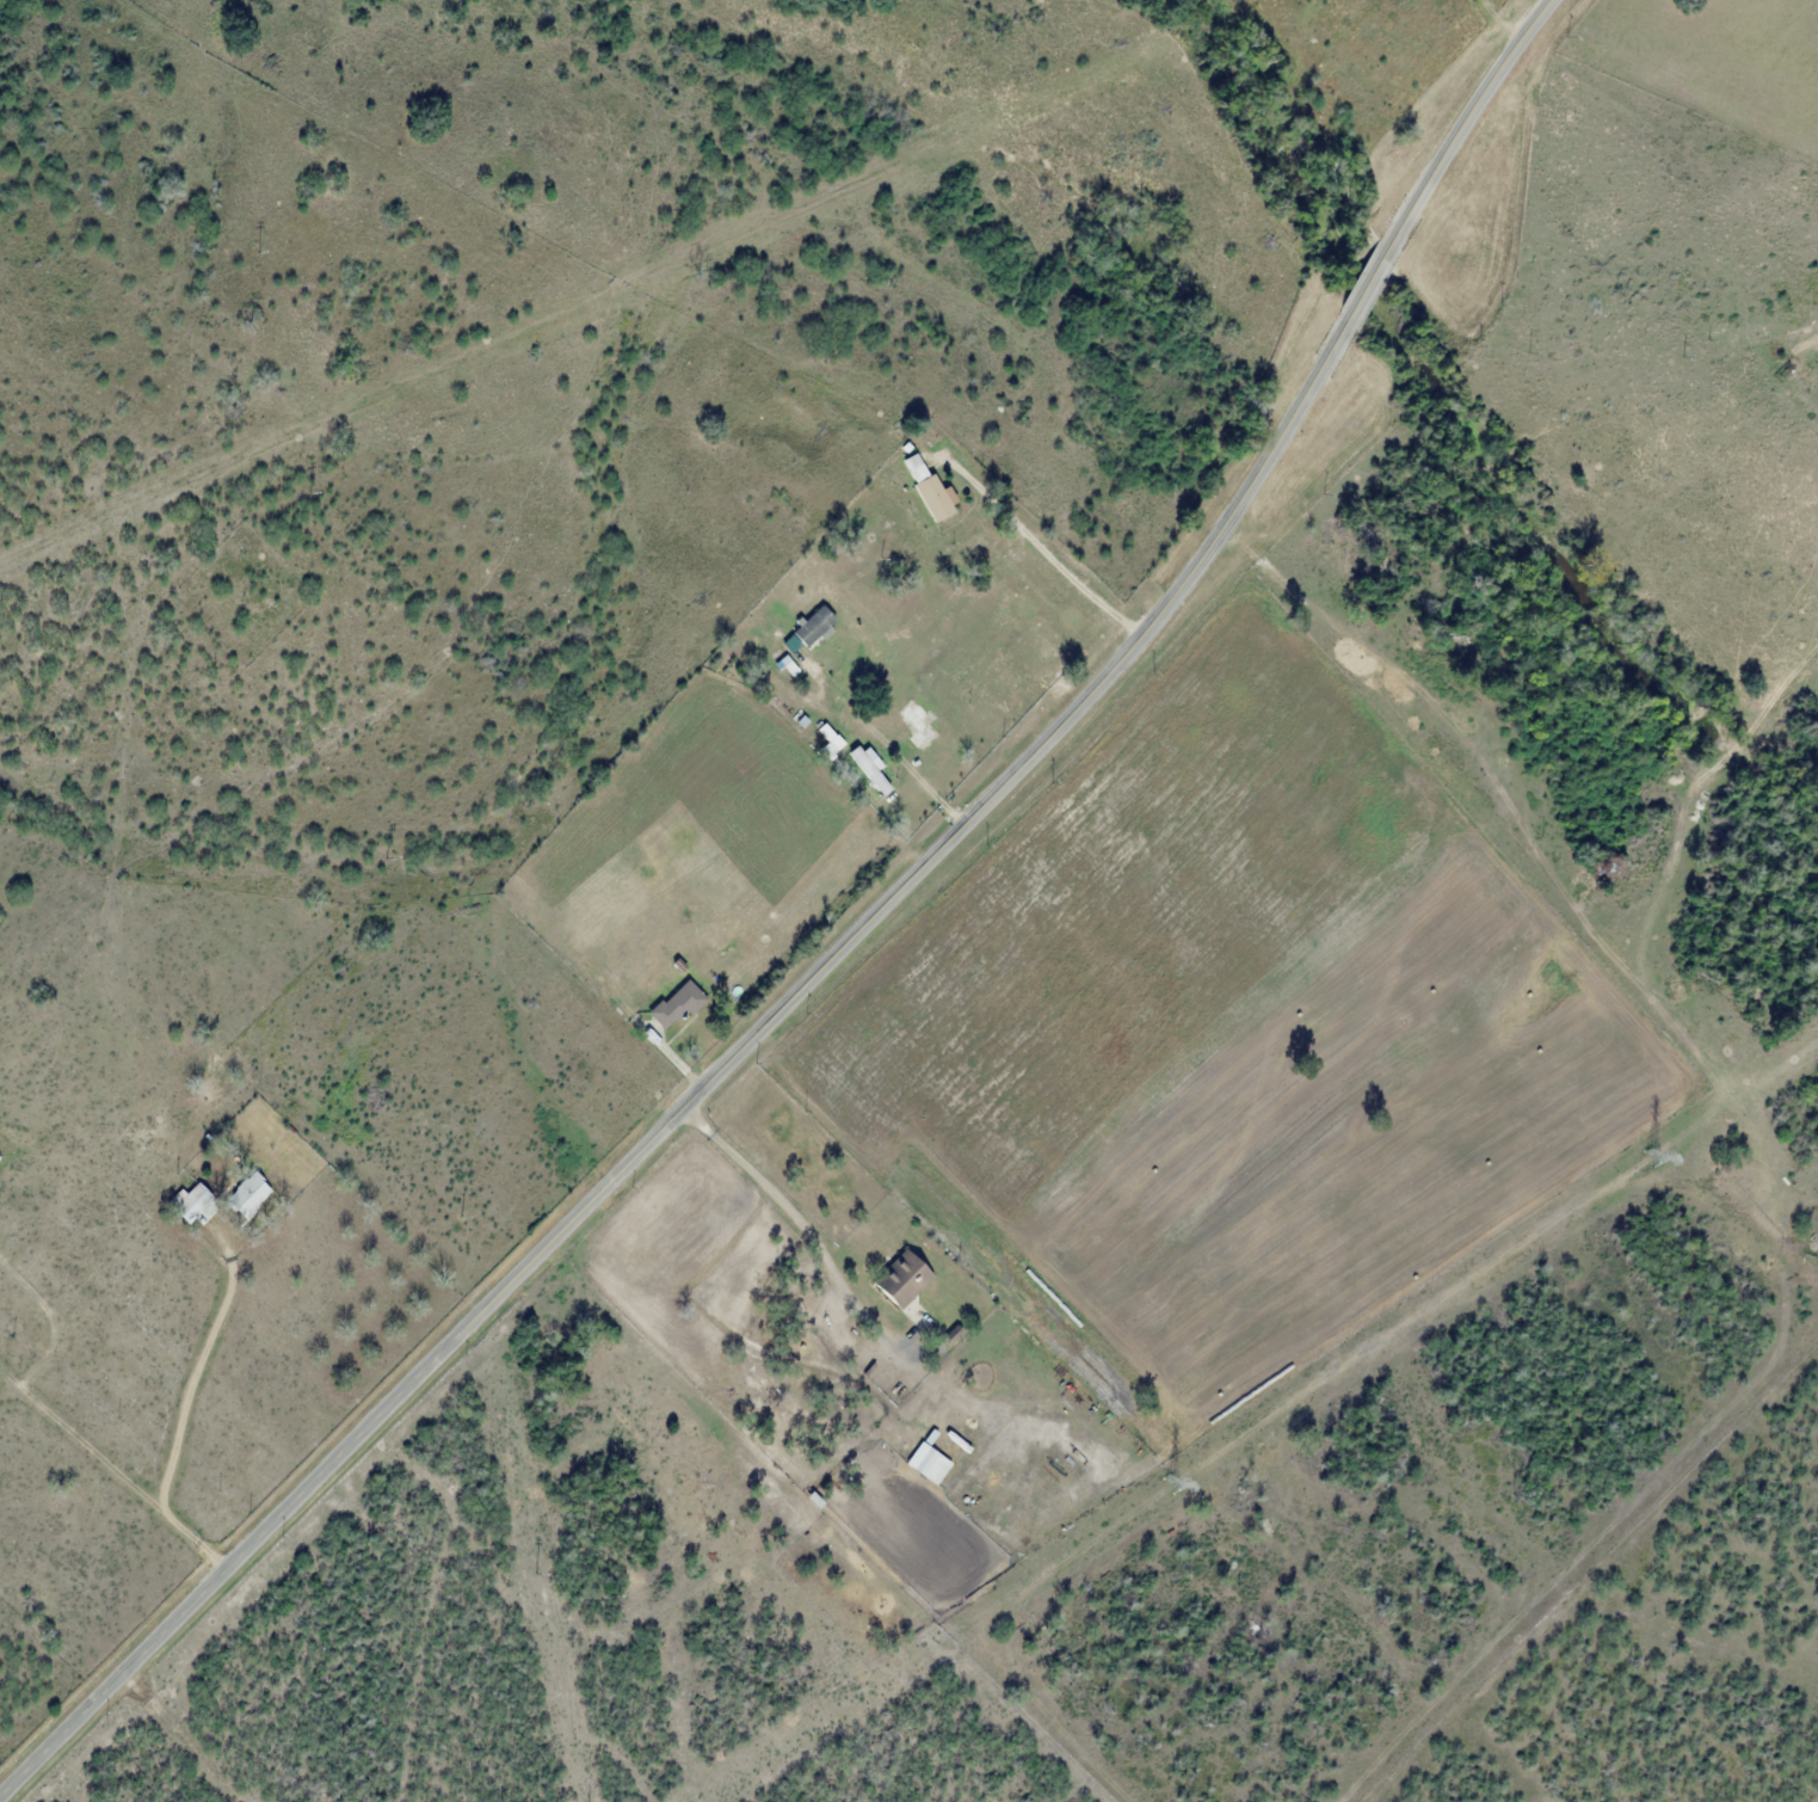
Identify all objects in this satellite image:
road: (1466, 118)
road: (1368, 281)
building: (931, 490)
road: (1027, 543)
building: (919, 727)
building: (870, 769)
building: (676, 1004)
road: (668, 1056)
road: (707, 1087)
building: (0, 1158)
power tower: (1650, 1158)
building: (247, 1194)
building: (190, 1201)
road: (796, 1232)
building: (902, 1278)
road: (54, 1317)
road: (186, 1402)
road: (79, 1437)
power tower: (1169, 1486)

